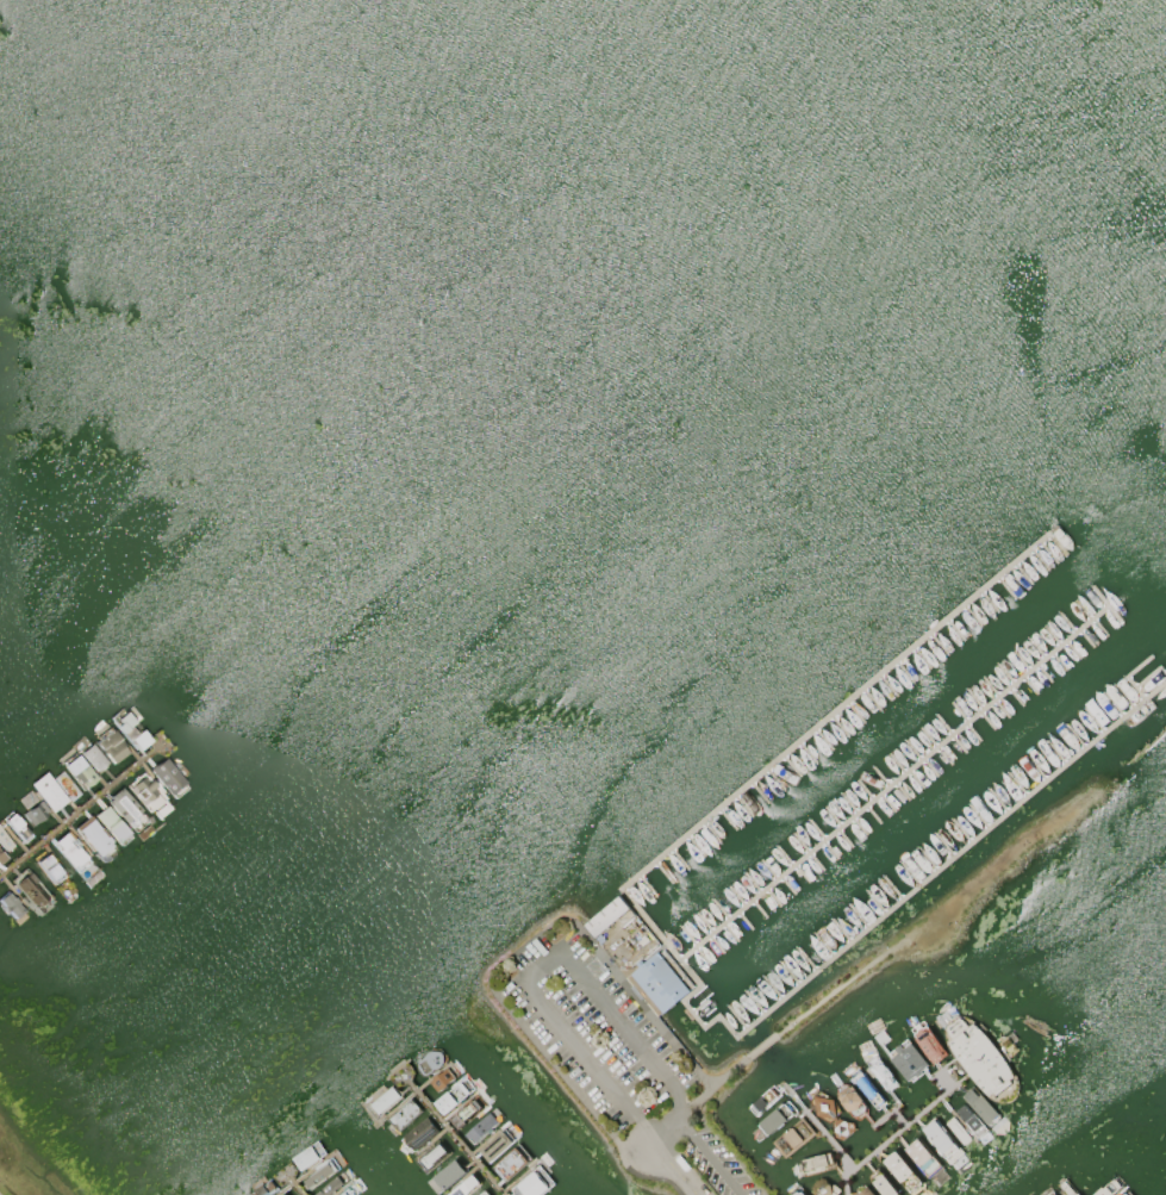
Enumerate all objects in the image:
pier: (837, 711)
building: (131, 729)
building: (111, 747)
building: (94, 758)
building: (80, 772)
building: (167, 776)
pier: (896, 783)
building: (146, 793)
building: (55, 796)
pier: (92, 799)
building: (35, 808)
building: (127, 809)
building: (111, 823)
building: (18, 828)
building: (95, 836)
building: (5, 841)
building: (73, 852)
building: (1, 854)
building: (51, 871)
building: (32, 890)
pier: (916, 892)
building: (11, 905)
building: (607, 915)
road: (542, 967)
building: (661, 982)
parking lot: (592, 1032)
building: (929, 1042)
building: (908, 1058)
building: (980, 1058)
building: (430, 1059)
building: (880, 1070)
building: (442, 1078)
building: (867, 1088)
building: (453, 1096)
building: (386, 1098)
building: (763, 1098)
building: (850, 1100)
building: (980, 1104)
building: (824, 1106)
pier: (891, 1107)
building: (468, 1110)
building: (404, 1112)
building: (774, 1119)
building: (972, 1120)
pier: (442, 1122)
building: (481, 1126)
pier: (817, 1126)
building: (841, 1127)
pier: (900, 1128)
building: (958, 1129)
road: (666, 1131)
building: (420, 1132)
building: (793, 1137)
building: (941, 1140)
building: (497, 1145)
building: (435, 1153)
building: (310, 1154)
road: (707, 1156)
building: (922, 1157)
building: (511, 1162)
building: (815, 1163)
parking lot: (715, 1164)
road: (674, 1169)
building: (903, 1172)
building: (319, 1174)
building: (447, 1175)
pier: (288, 1177)
building: (534, 1183)
building: (330, 1184)
building: (466, 1185)
building: (884, 1185)
building: (1068, 1187)
building: (1108, 1187)
building: (263, 1188)
building: (823, 1188)
building: (348, 1189)
building: (865, 1190)
building: (796, 1191)
building: (482, 1193)
building: (1050, 1193)
building: (1123, 1193)
building: (282, 1194)
building: (1056, 1194)

